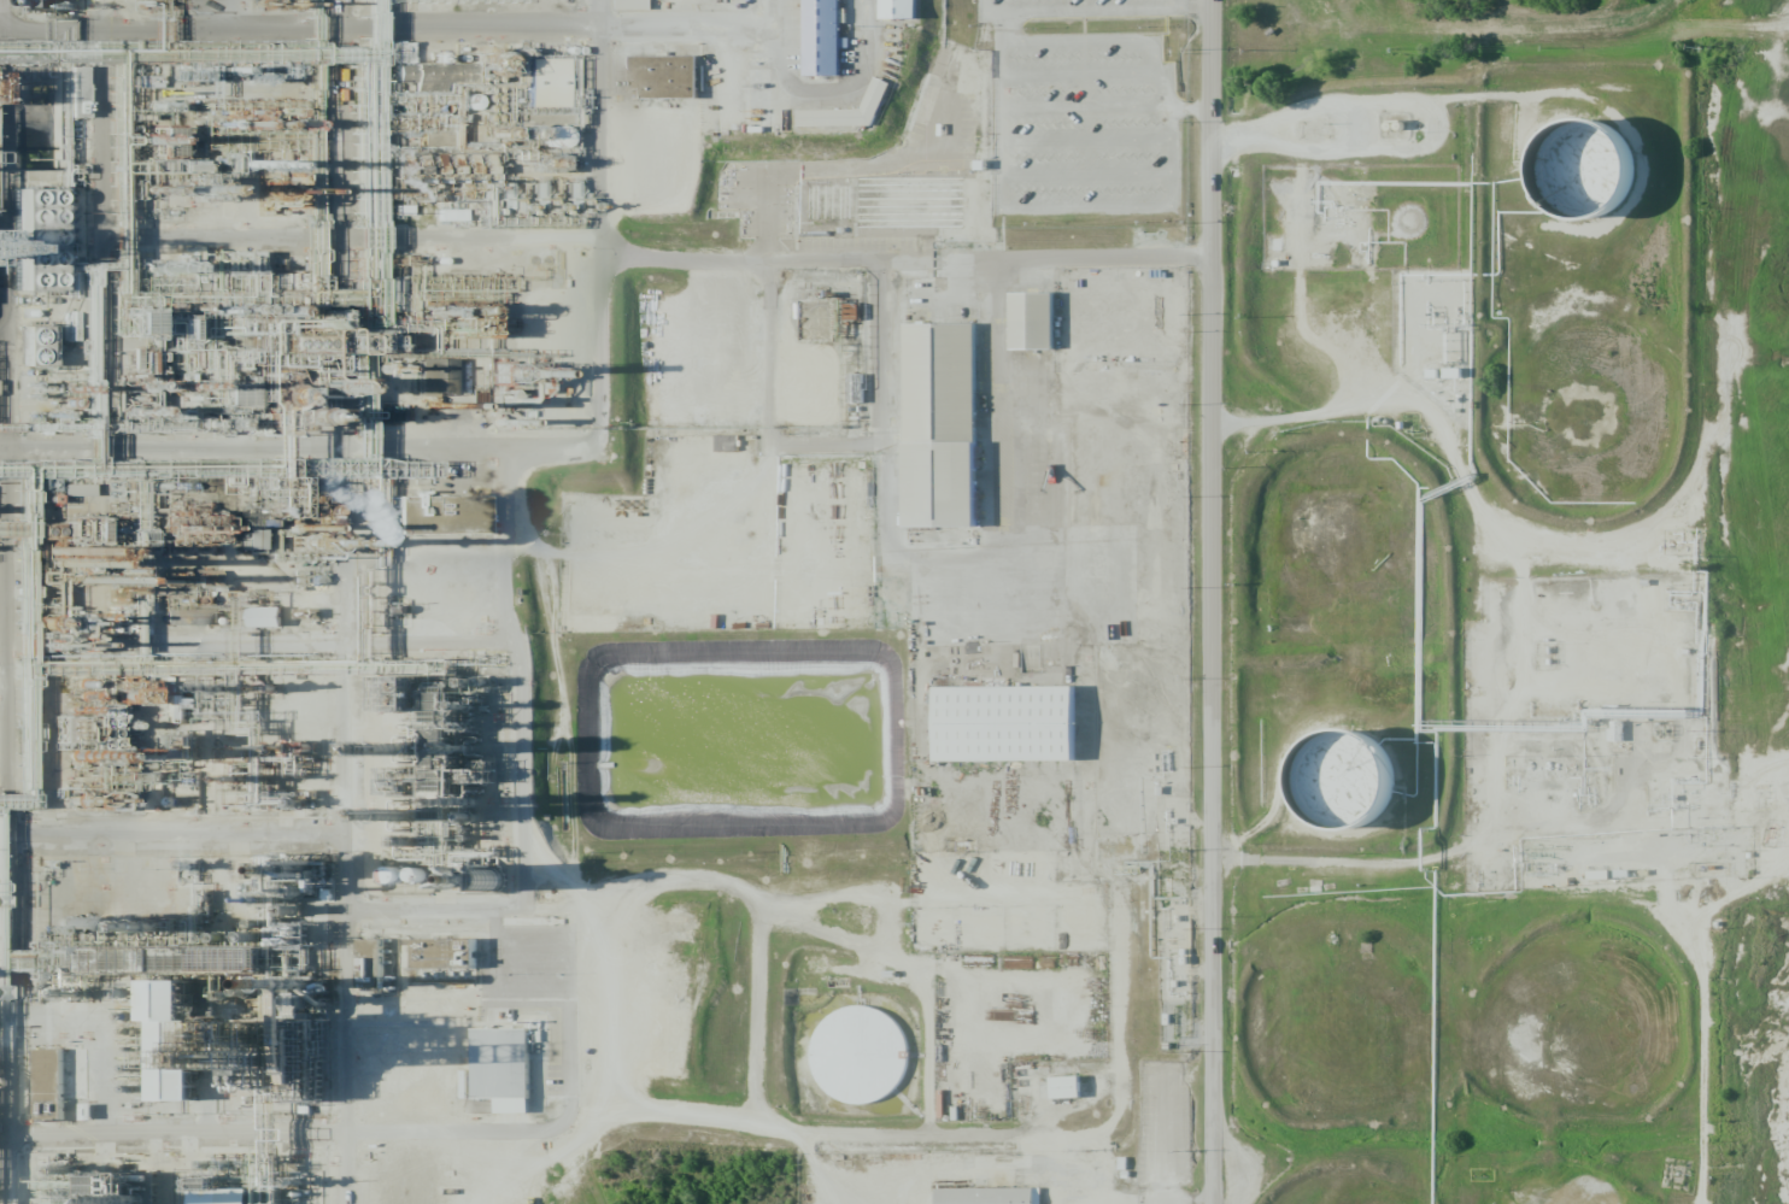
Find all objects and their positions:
building: (633, 4)
road: (985, 6)
road: (1192, 7)
building: (898, 8)
road: (1086, 10)
road: (1002, 23)
road: (387, 30)
building: (821, 37)
road: (1061, 39)
road: (1078, 72)
building: (669, 81)
building: (553, 86)
road: (1167, 87)
road: (1086, 107)
road: (1192, 110)
building: (847, 111)
building: (556, 136)
road: (1087, 137)
building: (567, 145)
storage tank: (567, 145)
road: (340, 149)
road: (1174, 160)
road: (1087, 172)
building: (1599, 181)
storage tank: (1599, 181)
road: (1036, 211)
building: (451, 215)
road: (6, 246)
building: (53, 249)
building: (1040, 325)
building: (31, 346)
building: (432, 377)
road: (8, 393)
building: (950, 433)
road: (171, 450)
building: (77, 489)
building: (448, 521)
road: (504, 547)
road: (1215, 601)
building: (187, 617)
building: (265, 617)
building: (1014, 727)
building: (1360, 793)
storage tank: (1360, 793)
road: (341, 827)
road: (550, 880)
road: (851, 938)
building: (445, 955)
road: (761, 1009)
building: (174, 1040)
building: (862, 1055)
storage tank: (862, 1055)
building: (510, 1068)
building: (48, 1083)
building: (1072, 1091)
building: (87, 1111)
road: (847, 1135)
building: (117, 1188)
building: (993, 1198)
building: (240, 1202)

